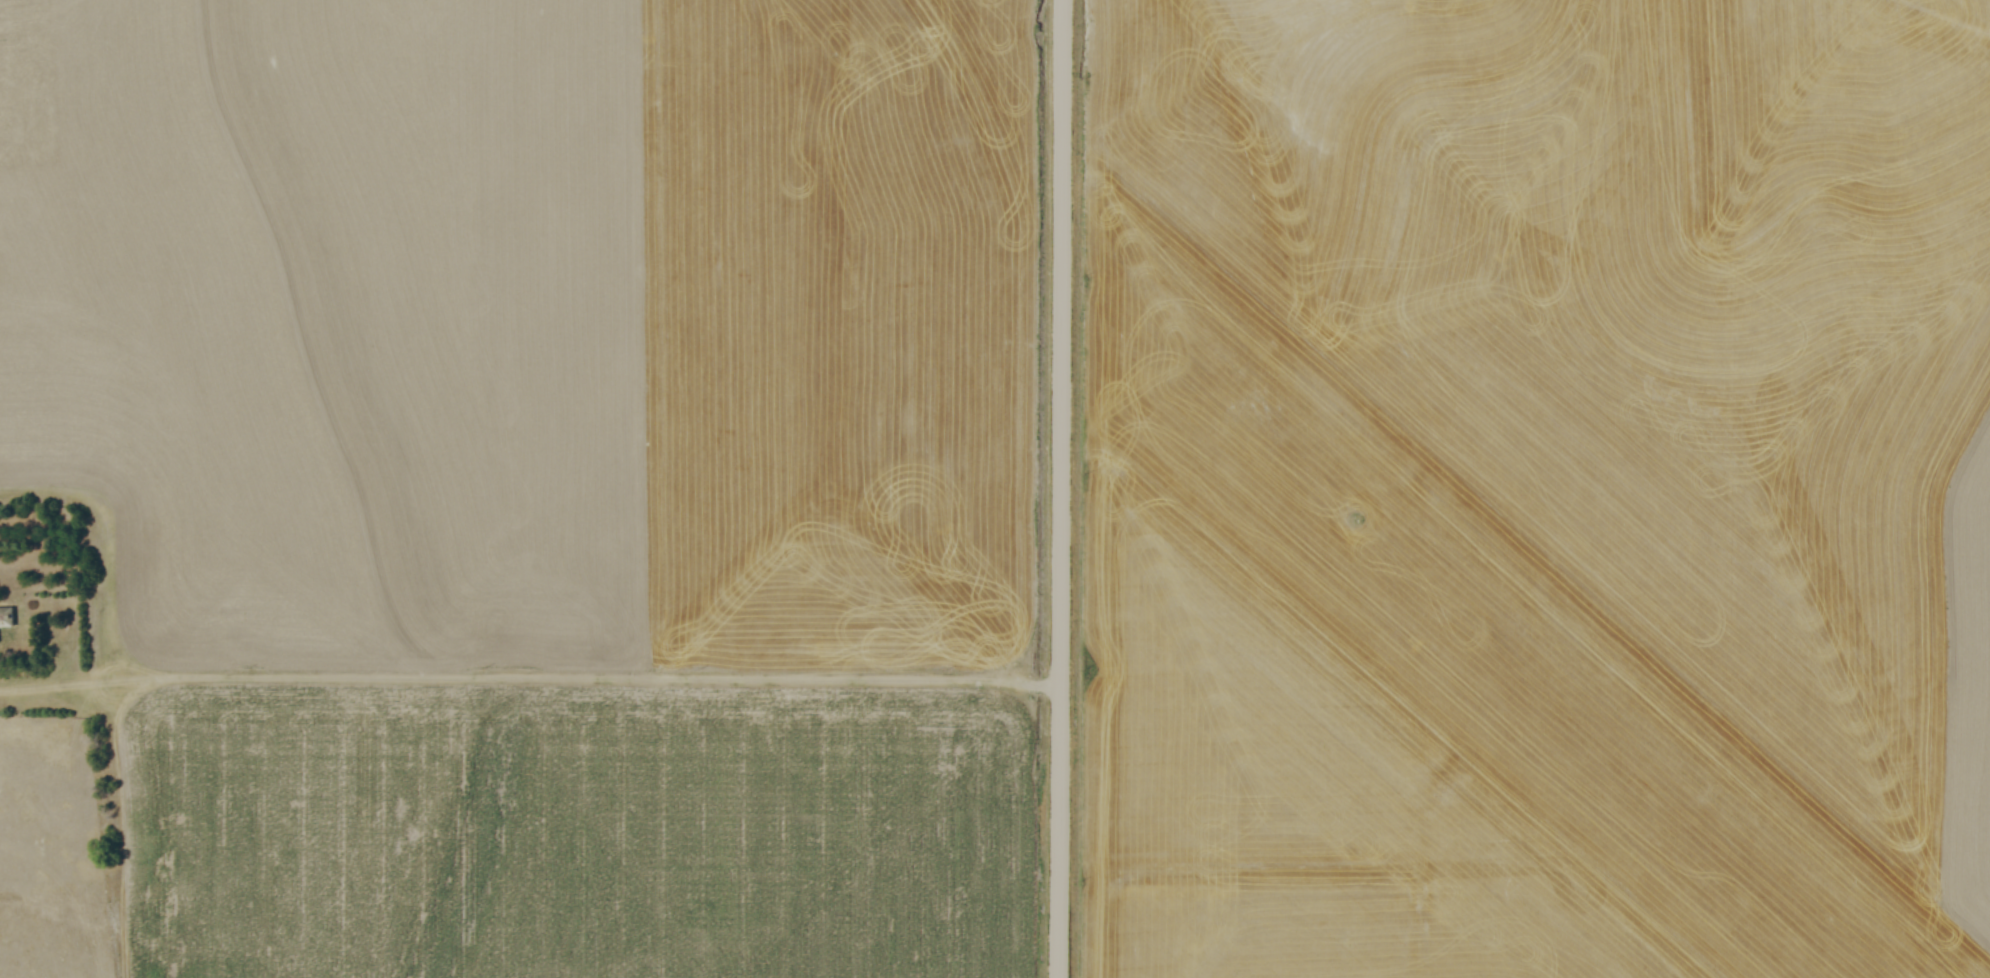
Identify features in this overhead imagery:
road: (1060, 488)
building: (6, 617)
road: (594, 681)

